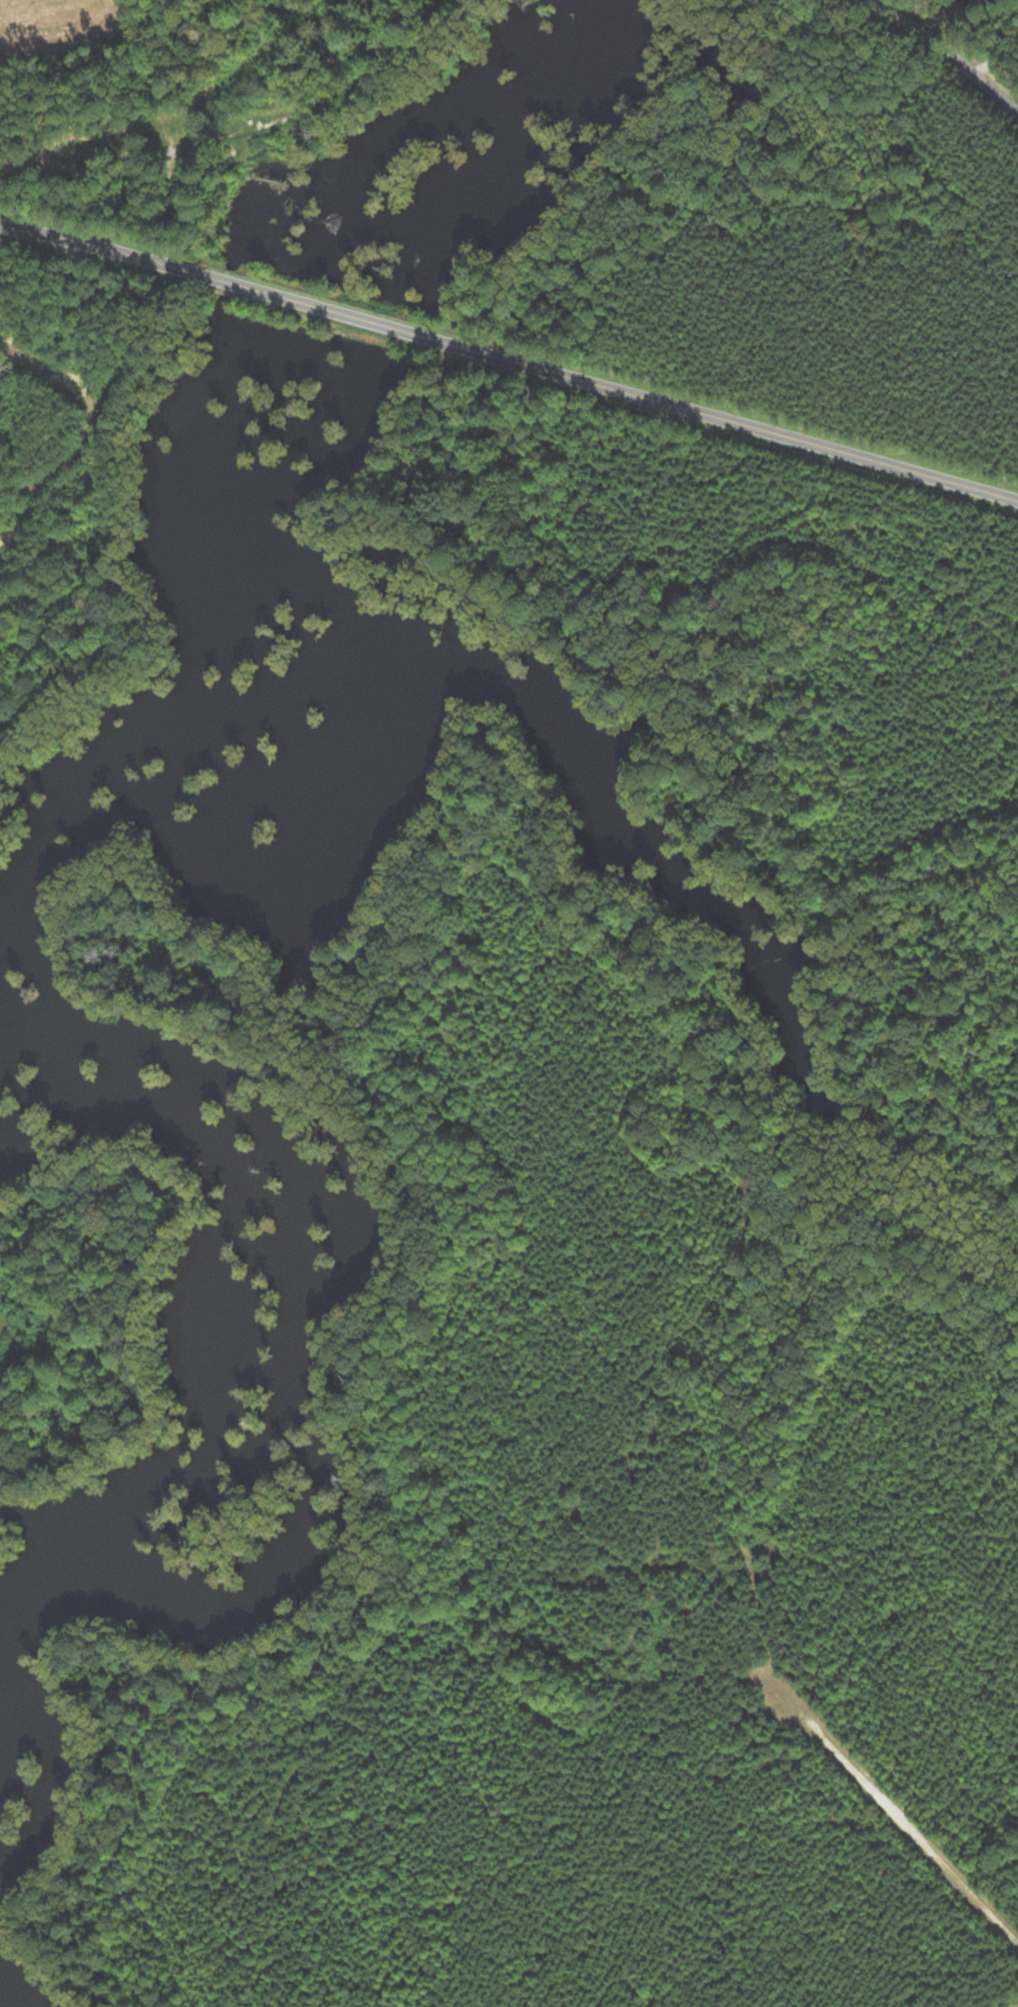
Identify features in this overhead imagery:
road: (952, 53)
road: (73, 245)
road: (311, 304)
road: (747, 427)
road: (898, 1807)

